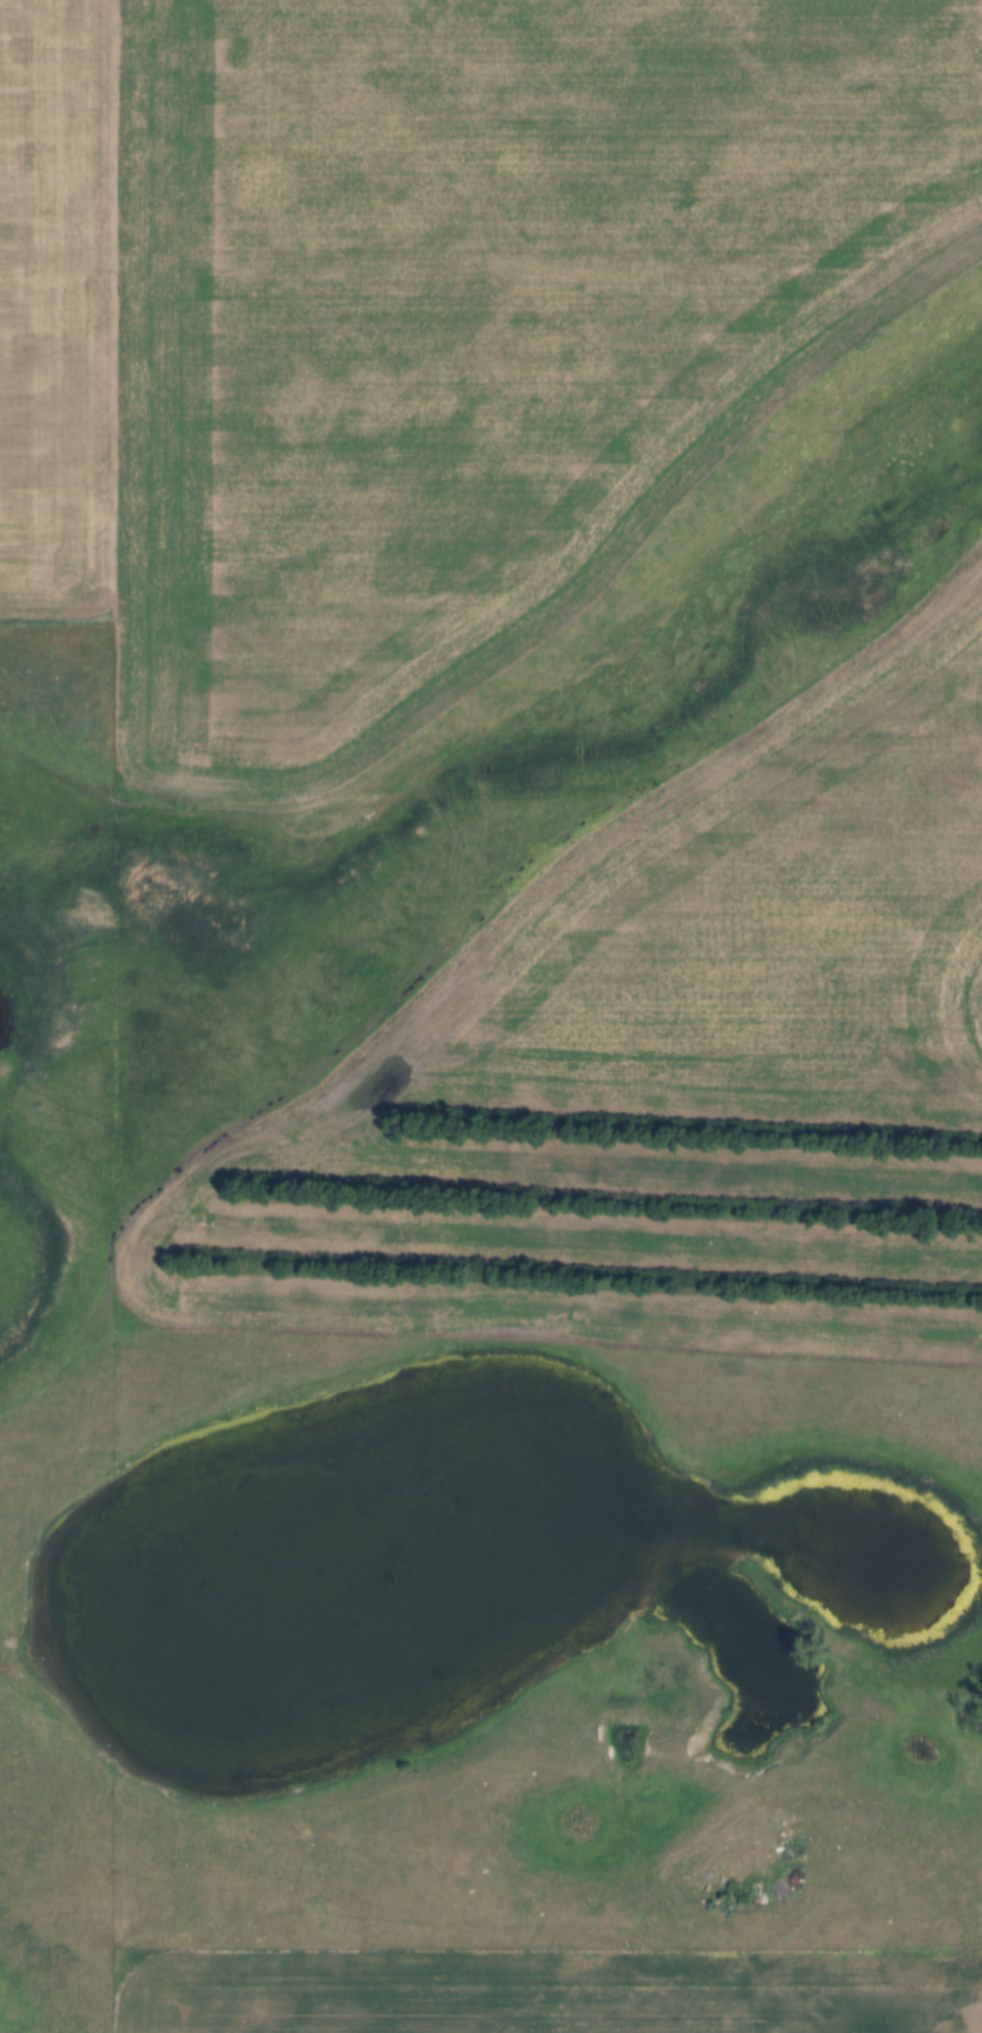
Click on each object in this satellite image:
road: (889, 1890)

